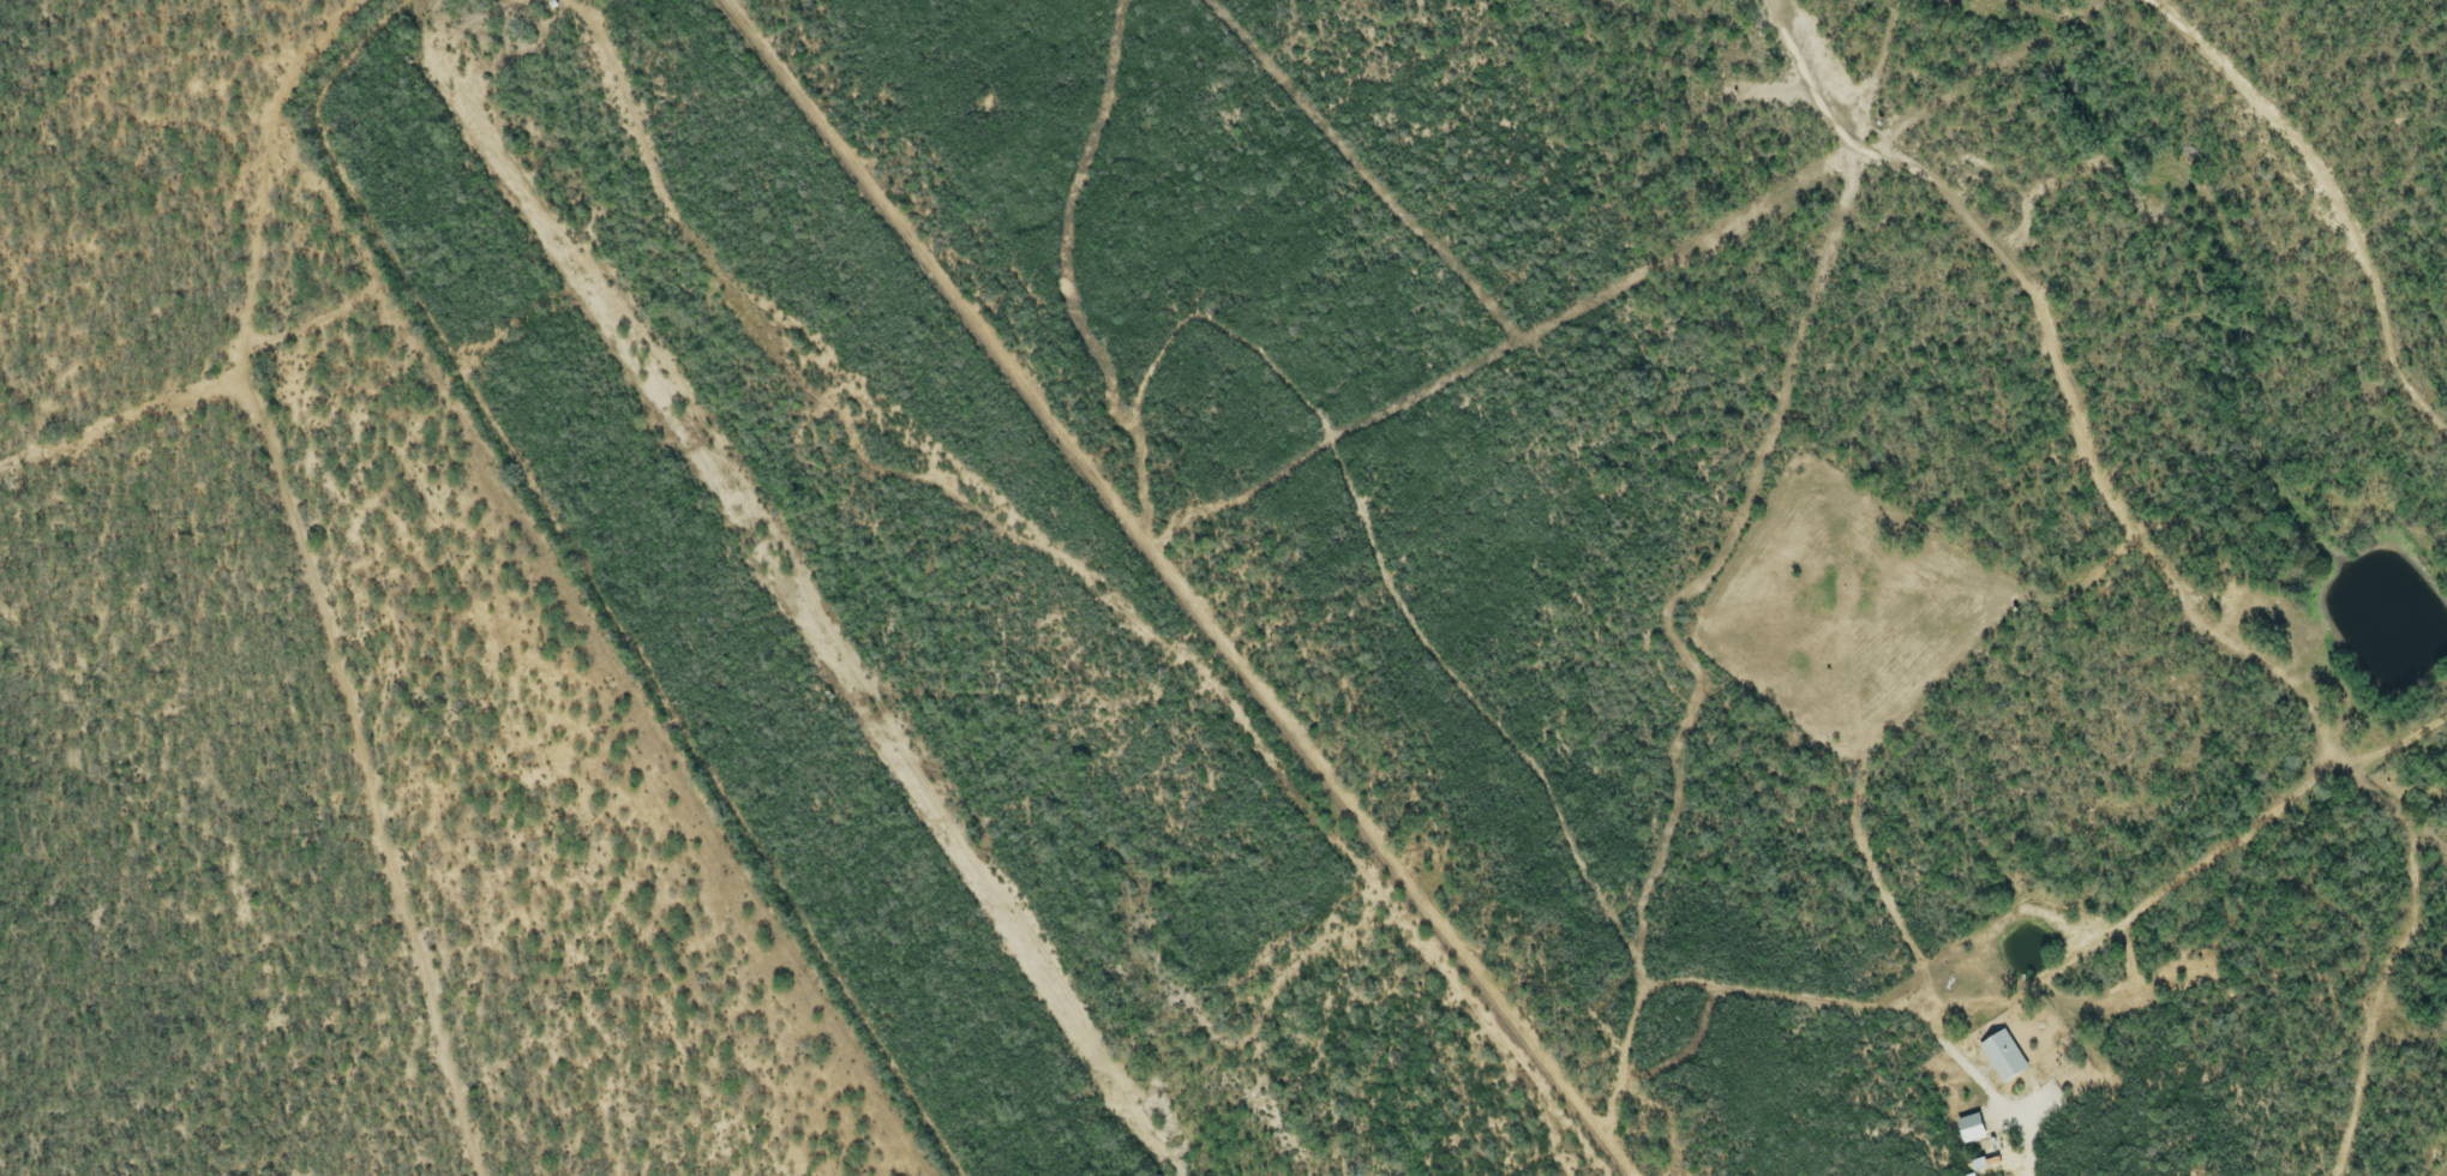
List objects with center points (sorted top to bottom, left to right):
road: (1786, 998)
building: (2003, 1058)
building: (1968, 1130)

